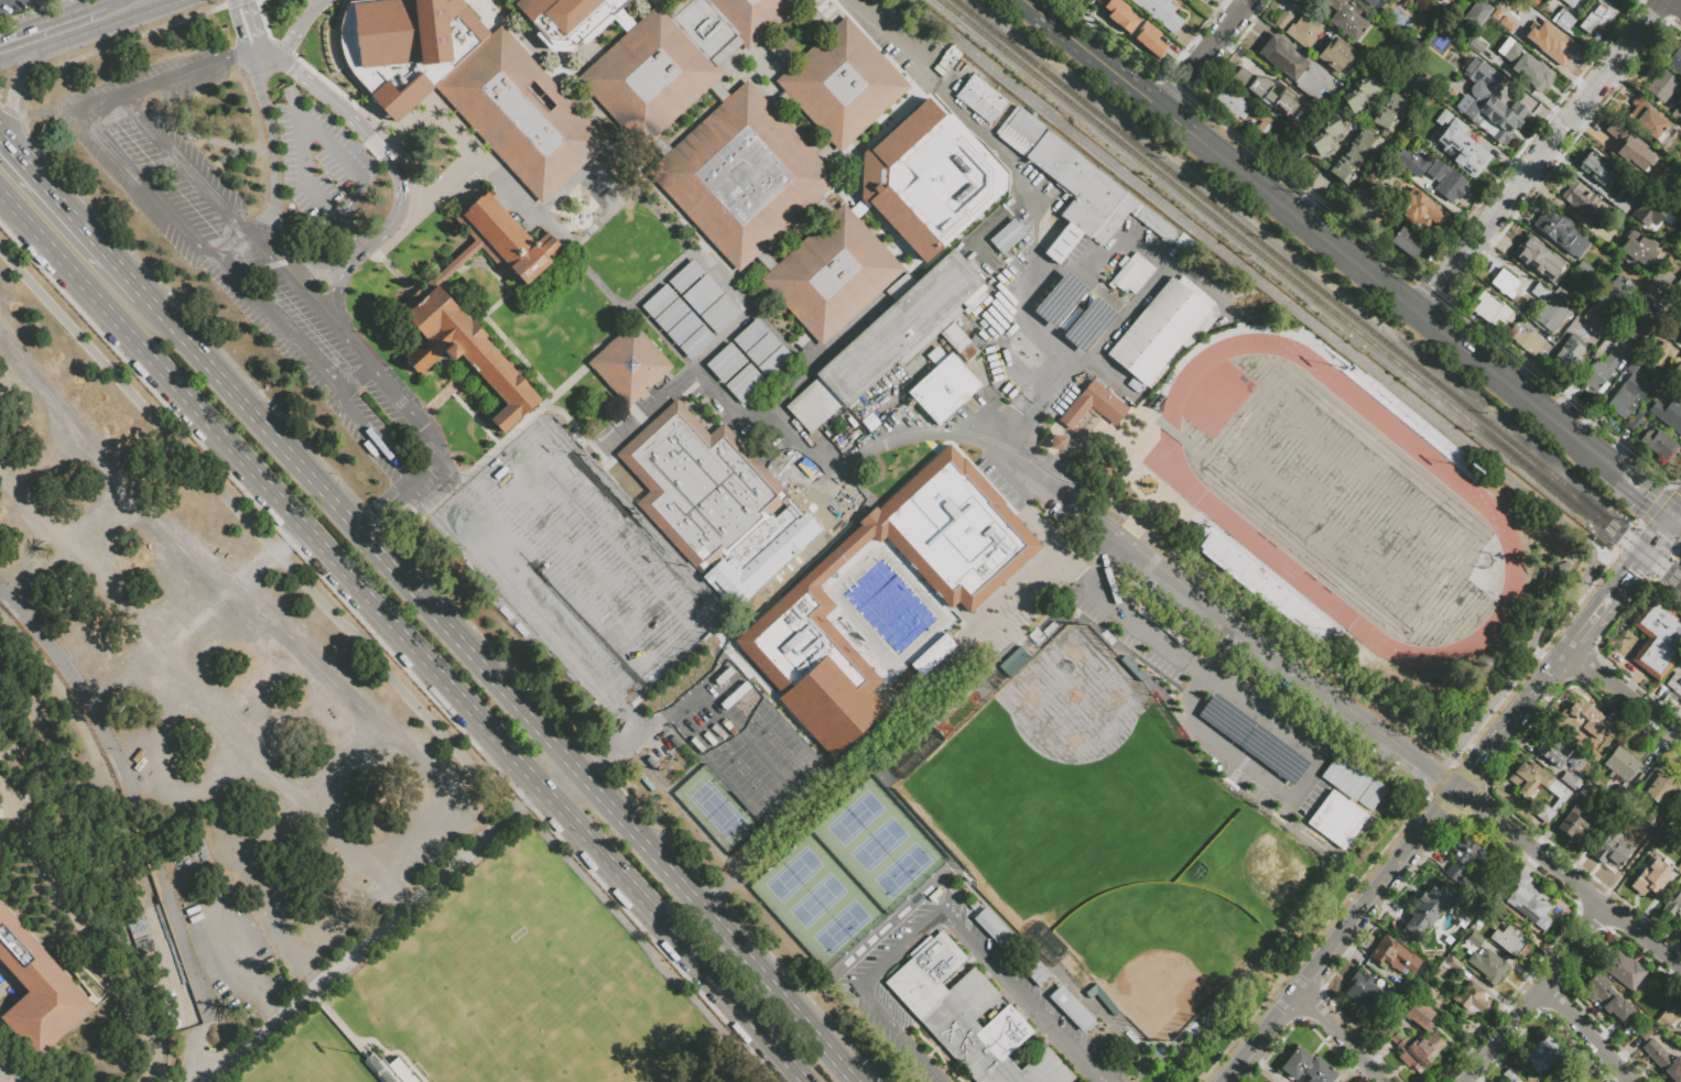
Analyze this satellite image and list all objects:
building: (1384, 0)
road: (231, 2)
traffic signals: (245, 2)
road: (1677, 2)
road: (140, 3)
building: (1367, 3)
building: (1573, 3)
parking lot: (17, 6)
road: (32, 11)
building: (1128, 12)
building: (1160, 12)
building: (1477, 12)
building: (752, 15)
building: (1598, 15)
building: (1345, 17)
building: (1282, 20)
building: (1563, 20)
building: (1509, 21)
building: (562, 24)
road: (252, 26)
road: (236, 29)
road: (65, 30)
road: (297, 30)
building: (706, 31)
building: (1304, 32)
road: (1109, 37)
building: (1551, 39)
road: (897, 42)
road: (109, 45)
building: (405, 45)
building: (1152, 45)
road: (1097, 53)
road: (1206, 53)
building: (1336, 53)
building: (1674, 62)
road: (259, 63)
building: (1287, 63)
road: (246, 65)
building: (1487, 72)
building: (1532, 72)
parking lot: (180, 74)
building: (647, 76)
building: (842, 84)
building: (1663, 85)
road: (14, 88)
road: (1173, 89)
building: (1359, 92)
building: (1269, 94)
building: (979, 98)
building: (1230, 103)
parking lot: (343, 109)
road: (8, 110)
road: (50, 111)
building: (1309, 111)
building: (1390, 111)
building: (1507, 112)
building: (1677, 112)
building: (519, 113)
building: (1647, 120)
road: (97, 128)
building: (1261, 129)
road: (360, 130)
road: (315, 134)
building: (1324, 135)
road: (11, 145)
building: (1630, 151)
road: (273, 152)
building: (1477, 152)
road: (1541, 155)
building: (1353, 156)
building: (1410, 161)
road: (183, 164)
building: (1596, 167)
building: (1062, 171)
building: (741, 176)
building: (928, 178)
building: (1395, 181)
building: (1446, 181)
road: (1302, 192)
road: (1312, 194)
building: (1579, 198)
building: (1362, 204)
building: (1678, 204)
road: (11, 206)
building: (1648, 209)
parking lot: (330, 210)
building: (1419, 210)
building: (1152, 221)
road: (83, 226)
parking lot: (273, 229)
road: (260, 232)
road: (354, 232)
building: (1560, 232)
building: (1006, 236)
building: (498, 241)
building: (1407, 241)
road: (234, 243)
building: (1062, 243)
road: (276, 244)
building: (1637, 249)
building: (1539, 260)
road: (316, 264)
building: (1584, 267)
road: (340, 272)
road: (1032, 273)
road: (1070, 273)
building: (832, 274)
building: (1132, 274)
building: (684, 276)
building: (1679, 280)
building: (1663, 281)
road: (1381, 282)
building: (1505, 284)
building: (1679, 286)
railway: (1316, 287)
road: (1429, 291)
building: (1539, 291)
railway: (1311, 293)
building: (701, 294)
building: (1560, 294)
parking lot: (1053, 296)
building: (1059, 298)
building: (658, 302)
building: (1609, 302)
road: (324, 307)
building: (1489, 309)
building: (1550, 312)
building: (718, 314)
building: (671, 315)
road: (280, 319)
building: (1641, 324)
building: (1087, 325)
building: (907, 327)
building: (682, 328)
building: (1159, 331)
building: (1673, 331)
building: (749, 335)
building: (1526, 339)
building: (695, 342)
road: (1552, 347)
building: (761, 349)
building: (1661, 352)
building: (468, 353)
building: (1568, 356)
building: (723, 360)
building: (628, 362)
building: (773, 363)
road: (1371, 367)
building: (1631, 367)
road: (1581, 369)
road: (11, 371)
road: (354, 372)
building: (735, 373)
building: (1597, 373)
road: (169, 379)
building: (942, 384)
building: (748, 387)
road: (1557, 392)
building: (1627, 396)
park: (1215, 397)
building: (812, 405)
building: (1092, 405)
road: (409, 406)
road: (250, 411)
building: (1405, 416)
building: (1635, 420)
building: (1673, 422)
building: (13, 428)
road: (376, 431)
building: (1055, 441)
building: (1657, 444)
road: (845, 466)
road: (1614, 467)
road: (427, 468)
building: (699, 485)
road: (1675, 487)
road: (1649, 495)
stadium: (1317, 496)
track: (1202, 500)
road: (387, 503)
park: (1342, 503)
road: (1655, 503)
road: (1677, 507)
road: (98, 511)
road: (1145, 513)
traffic signals: (1672, 514)
road: (1677, 517)
road: (1636, 525)
building: (959, 528)
road: (1053, 535)
road: (1623, 537)
road: (1678, 542)
road: (1138, 551)
road: (1672, 551)
road: (268, 554)
road: (1612, 556)
park: (579, 564)
road: (1107, 564)
road: (1662, 566)
road: (1617, 568)
road: (1618, 580)
building: (1270, 588)
road: (1624, 604)
road: (212, 630)
road: (1148, 630)
building: (1657, 638)
road: (465, 646)
building: (823, 646)
road: (1587, 647)
road: (1222, 649)
building: (932, 655)
building: (1012, 660)
road: (430, 664)
road: (380, 668)
road: (1304, 674)
road: (1540, 678)
building: (1675, 680)
parking lot: (214, 692)
road: (1623, 693)
parking lot: (1229, 697)
road: (1189, 698)
park: (1072, 700)
park: (740, 706)
road: (1262, 717)
building: (1225, 719)
building: (1586, 719)
road: (892, 722)
road: (1500, 729)
park: (711, 734)
building: (1552, 748)
road: (611, 750)
building: (1272, 754)
park: (787, 755)
building: (1620, 764)
road: (1469, 767)
building: (1344, 775)
road: (1261, 776)
road: (558, 777)
building: (1569, 779)
park: (756, 783)
building: (1657, 784)
park: (986, 787)
building: (1585, 789)
road: (308, 791)
building: (1561, 793)
building: (1369, 794)
road: (296, 795)
park: (718, 813)
road: (135, 815)
building: (1335, 818)
building: (1652, 818)
building: (1680, 819)
park: (856, 822)
building: (1680, 822)
building: (1573, 824)
park: (1117, 829)
building: (64, 837)
park: (876, 845)
park: (881, 849)
building: (1610, 851)
road: (1639, 853)
building: (1461, 857)
park: (1240, 865)
building: (1678, 870)
road: (379, 871)
park: (905, 873)
road: (1566, 876)
park: (793, 877)
building: (1646, 882)
park: (816, 899)
building: (1528, 901)
park: (818, 904)
building: (1672, 904)
building: (974, 905)
building: (1428, 908)
building: (1494, 911)
road: (713, 922)
park: (843, 928)
building: (996, 930)
road: (371, 933)
road: (1337, 933)
road: (672, 936)
building: (1474, 939)
building: (1450, 940)
building: (1509, 941)
road: (226, 944)
park: (1157, 948)
building: (1392, 954)
building: (1452, 963)
building: (1434, 965)
building: (1488, 965)
building: (1624, 970)
building: (1035, 971)
building: (1442, 975)
building: (1407, 987)
building: (1364, 988)
road: (861, 992)
building: (1660, 993)
building: (34, 994)
road: (1534, 994)
building: (165, 996)
road: (1018, 996)
building: (1608, 997)
park: (529, 998)
building: (1469, 998)
building: (1395, 1005)
building: (1071, 1007)
building: (967, 1016)
building: (1667, 1017)
road: (1338, 1034)
road: (1585, 1034)
building: (1418, 1040)
building: (1680, 1041)
building: (1542, 1053)
stadium: (315, 1057)
building: (1661, 1057)
park: (317, 1063)
building: (1306, 1067)
building: (380, 1069)
building: (1509, 1075)
building: (1569, 1078)

